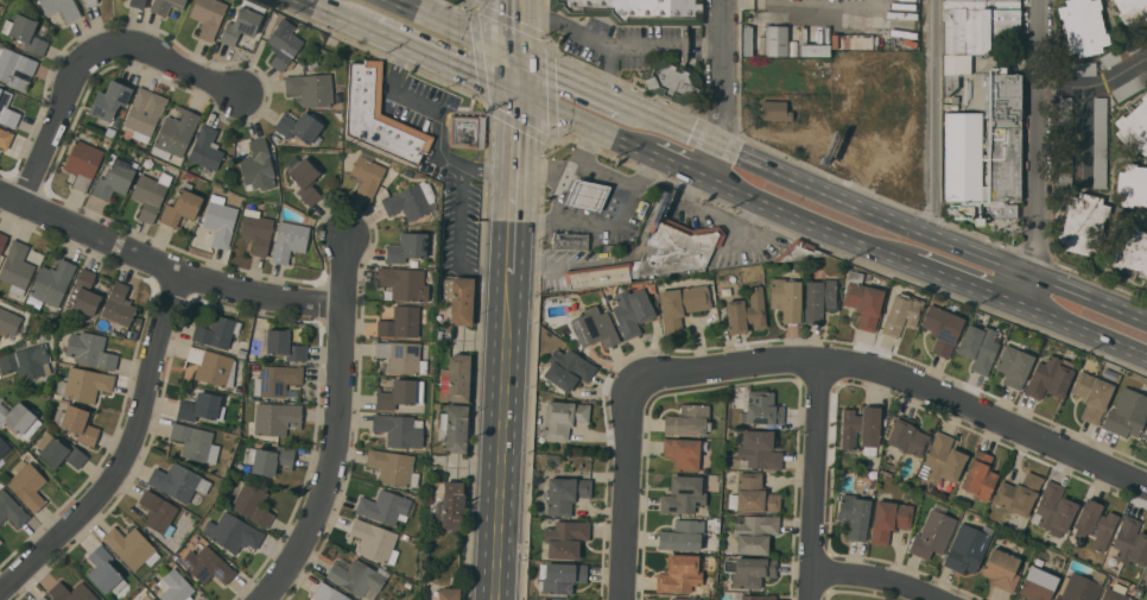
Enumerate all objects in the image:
building: (87, 1)
building: (137, 2)
road: (791, 4)
building: (165, 5)
building: (61, 7)
building: (635, 11)
building: (1132, 11)
building: (208, 17)
road: (340, 17)
building: (243, 21)
building: (1083, 26)
road: (458, 27)
road: (520, 27)
road: (566, 27)
building: (972, 32)
building: (26, 33)
building: (747, 39)
building: (777, 42)
building: (851, 42)
building: (284, 44)
road: (645, 49)
building: (813, 49)
building: (1124, 49)
traffic signals: (520, 55)
road: (97, 61)
road: (443, 61)
building: (15, 68)
building: (1076, 69)
road: (519, 75)
road: (573, 78)
building: (672, 80)
building: (1129, 86)
road: (1096, 87)
building: (311, 88)
road: (724, 91)
traffic signals: (519, 95)
building: (110, 100)
road: (427, 107)
building: (7, 109)
building: (774, 109)
building: (144, 113)
building: (379, 115)
road: (936, 116)
road: (583, 124)
building: (298, 125)
building: (1134, 127)
building: (467, 130)
building: (110, 132)
building: (175, 133)
road: (1083, 134)
building: (5, 138)
building: (1064, 141)
building: (1100, 141)
building: (205, 147)
building: (962, 156)
building: (999, 156)
road: (1039, 156)
building: (82, 164)
road: (679, 165)
building: (256, 166)
road: (566, 168)
road: (490, 173)
building: (118, 175)
building: (366, 175)
road: (603, 176)
building: (305, 181)
road: (514, 183)
building: (1132, 184)
building: (150, 192)
building: (587, 194)
building: (411, 200)
building: (180, 207)
road: (887, 211)
road: (598, 217)
building: (220, 220)
road: (810, 221)
building: (1082, 222)
building: (256, 230)
building: (2, 240)
building: (289, 240)
building: (570, 240)
road: (457, 244)
building: (406, 247)
building: (1127, 247)
building: (798, 250)
building: (655, 253)
road: (164, 263)
building: (413, 263)
building: (17, 267)
building: (52, 280)
building: (403, 283)
road: (972, 286)
building: (84, 295)
building: (460, 298)
building: (786, 298)
building: (819, 298)
building: (862, 299)
building: (34, 302)
building: (119, 304)
building: (682, 304)
building: (632, 310)
building: (746, 311)
building: (901, 312)
building: (400, 321)
building: (8, 322)
building: (102, 324)
building: (594, 327)
building: (943, 328)
building: (217, 331)
road: (1091, 335)
building: (284, 345)
building: (978, 347)
building: (90, 349)
building: (241, 352)
building: (401, 356)
building: (27, 361)
building: (1013, 365)
building: (213, 366)
building: (255, 367)
building: (568, 368)
building: (458, 377)
building: (1050, 377)
road: (899, 378)
building: (277, 379)
building: (84, 384)
building: (239, 387)
building: (399, 393)
building: (1091, 394)
building: (201, 406)
building: (761, 408)
building: (1127, 412)
building: (19, 417)
building: (277, 417)
building: (563, 417)
building: (687, 419)
building: (78, 422)
road: (336, 427)
building: (455, 427)
building: (860, 427)
building: (399, 429)
building: (1146, 434)
building: (907, 435)
road: (502, 436)
building: (194, 441)
building: (2, 448)
building: (758, 449)
building: (59, 451)
road: (128, 453)
building: (683, 453)
building: (271, 459)
building: (942, 459)
building: (392, 467)
building: (978, 475)
road: (813, 478)
building: (178, 481)
building: (27, 484)
road: (628, 492)
building: (1018, 493)
building: (560, 494)
building: (753, 494)
building: (684, 495)
building: (252, 504)
building: (451, 505)
building: (386, 506)
building: (11, 509)
building: (1054, 509)
building: (158, 512)
building: (854, 514)
building: (889, 519)
building: (1095, 523)
building: (233, 531)
building: (754, 531)
building: (933, 532)
building: (682, 535)
building: (565, 538)
building: (373, 541)
building: (1130, 541)
building: (131, 545)
building: (965, 548)
building: (207, 564)
building: (1001, 569)
building: (1146, 569)
building: (104, 570)
building: (749, 570)
building: (679, 573)
building: (560, 576)
building: (359, 577)
road: (874, 580)
building: (1038, 582)
building: (175, 586)
building: (1081, 587)
building: (71, 592)
building: (329, 593)
building: (448, 593)
building: (1115, 593)
building: (758, 596)
building: (43, 598)
building: (146, 598)
building: (685, 598)
building: (555, 599)
building: (582, 599)

